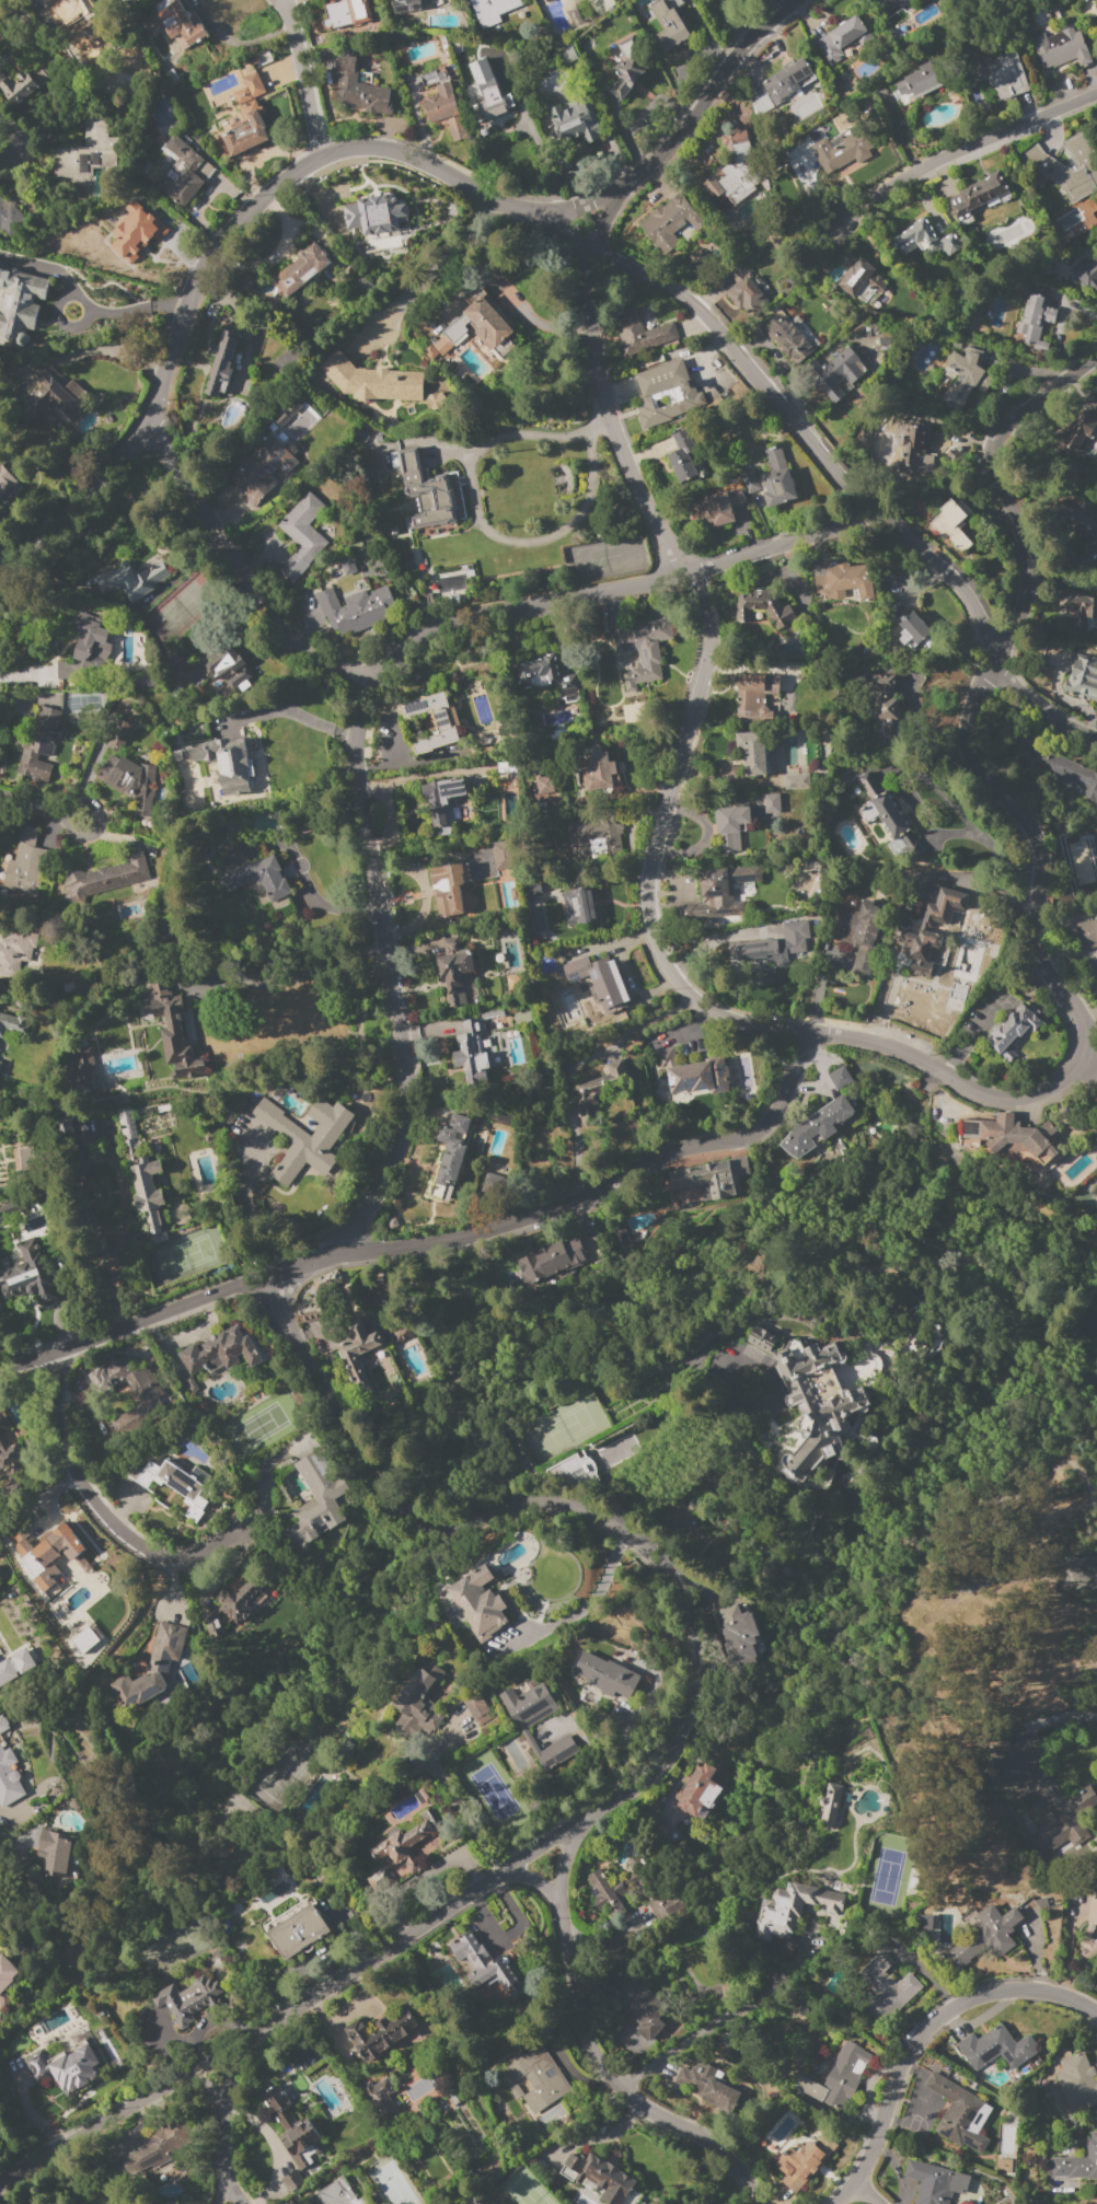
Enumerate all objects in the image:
building: (892, 3)
building: (80, 5)
building: (405, 5)
building: (1095, 7)
building: (488, 11)
building: (345, 13)
building: (180, 23)
building: (669, 26)
building: (839, 38)
building: (1060, 47)
building: (626, 67)
building: (481, 71)
building: (998, 74)
road: (299, 78)
building: (432, 78)
building: (787, 80)
building: (921, 81)
building: (22, 84)
building: (250, 88)
building: (358, 89)
building: (494, 103)
building: (761, 105)
building: (444, 111)
building: (580, 116)
building: (563, 124)
building: (242, 132)
road: (3, 143)
road: (965, 148)
building: (86, 149)
road: (343, 149)
building: (840, 152)
building: (1067, 167)
building: (183, 171)
building: (731, 173)
building: (978, 197)
building: (373, 214)
building: (3, 218)
building: (669, 222)
building: (137, 237)
building: (925, 240)
road: (438, 268)
building: (301, 269)
building: (1086, 272)
building: (859, 281)
building: (742, 292)
building: (20, 303)
road: (126, 309)
building: (1035, 321)
building: (478, 324)
building: (639, 333)
building: (787, 337)
building: (436, 346)
road: (94, 349)
building: (220, 363)
building: (834, 373)
building: (963, 373)
building: (371, 381)
building: (650, 390)
building: (54, 395)
building: (435, 401)
building: (1079, 431)
building: (360, 436)
building: (378, 439)
building: (910, 440)
building: (682, 456)
road: (827, 464)
building: (262, 468)
building: (776, 479)
building: (748, 482)
building: (4, 483)
building: (424, 490)
building: (716, 507)
building: (950, 523)
building: (1076, 523)
building: (389, 531)
road: (486, 533)
building: (301, 536)
building: (347, 567)
road: (243, 571)
building: (134, 580)
building: (844, 581)
road: (619, 587)
building: (1078, 607)
building: (354, 608)
building: (763, 608)
building: (911, 629)
building: (91, 640)
road: (706, 649)
building: (642, 650)
building: (172, 657)
building: (223, 664)
building: (62, 670)
building: (546, 677)
building: (1082, 677)
building: (142, 682)
building: (882, 696)
building: (758, 699)
road: (293, 712)
building: (440, 722)
building: (117, 735)
building: (38, 744)
building: (751, 753)
building: (227, 763)
building: (507, 767)
building: (599, 769)
building: (1067, 772)
building: (132, 781)
building: (795, 781)
building: (544, 785)
building: (442, 801)
building: (771, 803)
building: (880, 809)
road: (43, 810)
road: (386, 812)
building: (731, 828)
building: (592, 834)
building: (501, 855)
building: (24, 865)
building: (105, 878)
building: (257, 878)
building: (447, 889)
building: (533, 889)
building: (718, 893)
building: (579, 906)
building: (942, 910)
building: (1086, 932)
building: (857, 935)
building: (776, 944)
building: (15, 949)
building: (916, 949)
building: (548, 962)
road: (385, 968)
building: (454, 971)
road: (291, 976)
building: (599, 982)
road: (1087, 1014)
building: (12, 1024)
building: (173, 1029)
building: (1012, 1031)
building: (485, 1048)
road: (908, 1054)
building: (0, 1063)
road: (574, 1064)
building: (84, 1069)
building: (692, 1074)
building: (839, 1078)
building: (603, 1082)
building: (817, 1126)
building: (1006, 1135)
building: (304, 1137)
building: (449, 1155)
building: (22, 1161)
road: (117, 1171)
building: (713, 1176)
building: (142, 1178)
building: (9, 1209)
road: (244, 1209)
building: (551, 1260)
building: (26, 1276)
building: (309, 1316)
building: (402, 1335)
building: (220, 1353)
building: (356, 1373)
building: (189, 1384)
building: (130, 1390)
building: (809, 1403)
building: (2, 1424)
building: (9, 1455)
building: (588, 1466)
building: (134, 1472)
building: (177, 1487)
building: (316, 1501)
road: (109, 1515)
building: (50, 1542)
road: (1096, 1557)
building: (235, 1601)
building: (477, 1603)
building: (738, 1635)
building: (81, 1639)
building: (15, 1666)
building: (151, 1667)
road: (696, 1667)
building: (604, 1675)
building: (418, 1703)
building: (474, 1705)
building: (533, 1718)
road: (1042, 1722)
building: (2, 1725)
road: (620, 1750)
building: (8, 1778)
building: (698, 1788)
building: (829, 1806)
building: (1059, 1811)
building: (403, 1843)
building: (55, 1852)
road: (529, 1880)
building: (611, 1891)
building: (665, 1904)
building: (792, 1910)
building: (1092, 1912)
building: (924, 1923)
building: (296, 1928)
building: (984, 1935)
building: (1096, 1935)
building: (1087, 1950)
building: (484, 1965)
building: (5, 1972)
road: (772, 1981)
building: (887, 1984)
building: (189, 1999)
building: (642, 2008)
road: (216, 2021)
building: (381, 2032)
road: (919, 2032)
road: (176, 2039)
building: (995, 2048)
road: (672, 2049)
road: (593, 2050)
building: (67, 2068)
road: (234, 2073)
building: (538, 2078)
building: (838, 2078)
building: (707, 2083)
building: (1076, 2083)
building: (515, 2091)
building: (380, 2099)
road: (25, 2113)
building: (959, 2113)
road: (103, 2130)
building: (293, 2130)
road: (221, 2134)
building: (154, 2148)
building: (805, 2160)
building: (1074, 2162)
building: (1003, 2167)
building: (601, 2176)
building: (291, 2181)
building: (933, 2182)
building: (337, 2193)
road: (230, 2194)
road: (865, 2194)
building: (469, 2202)

